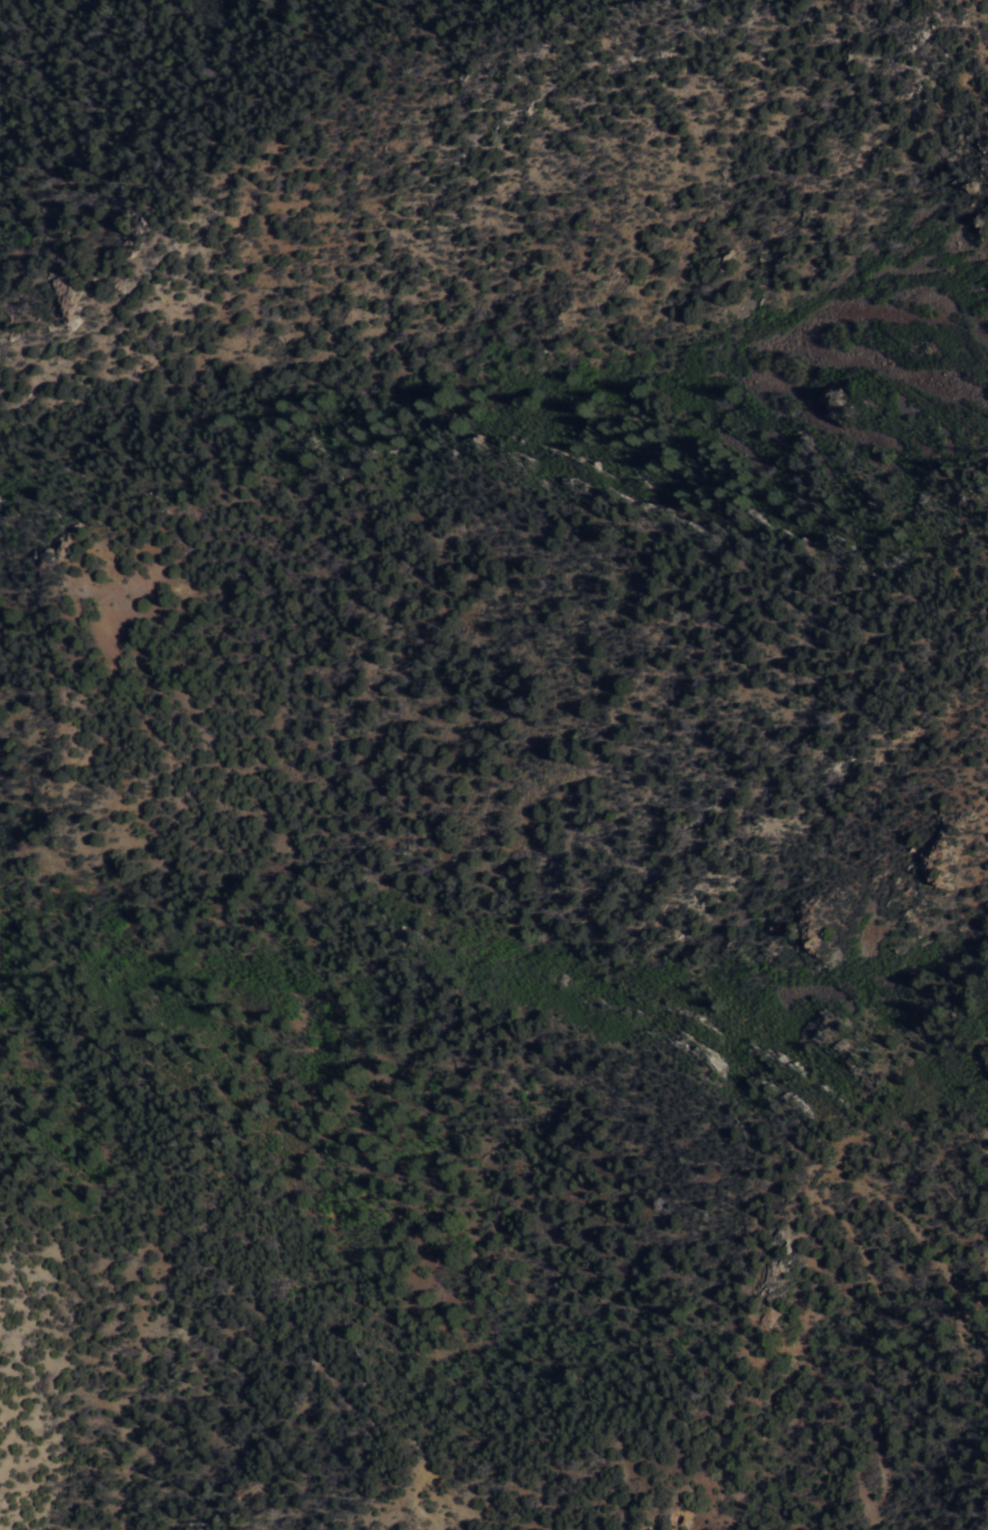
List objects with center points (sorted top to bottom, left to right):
road: (736, 1275)
mineshaft: (241, 1398)

